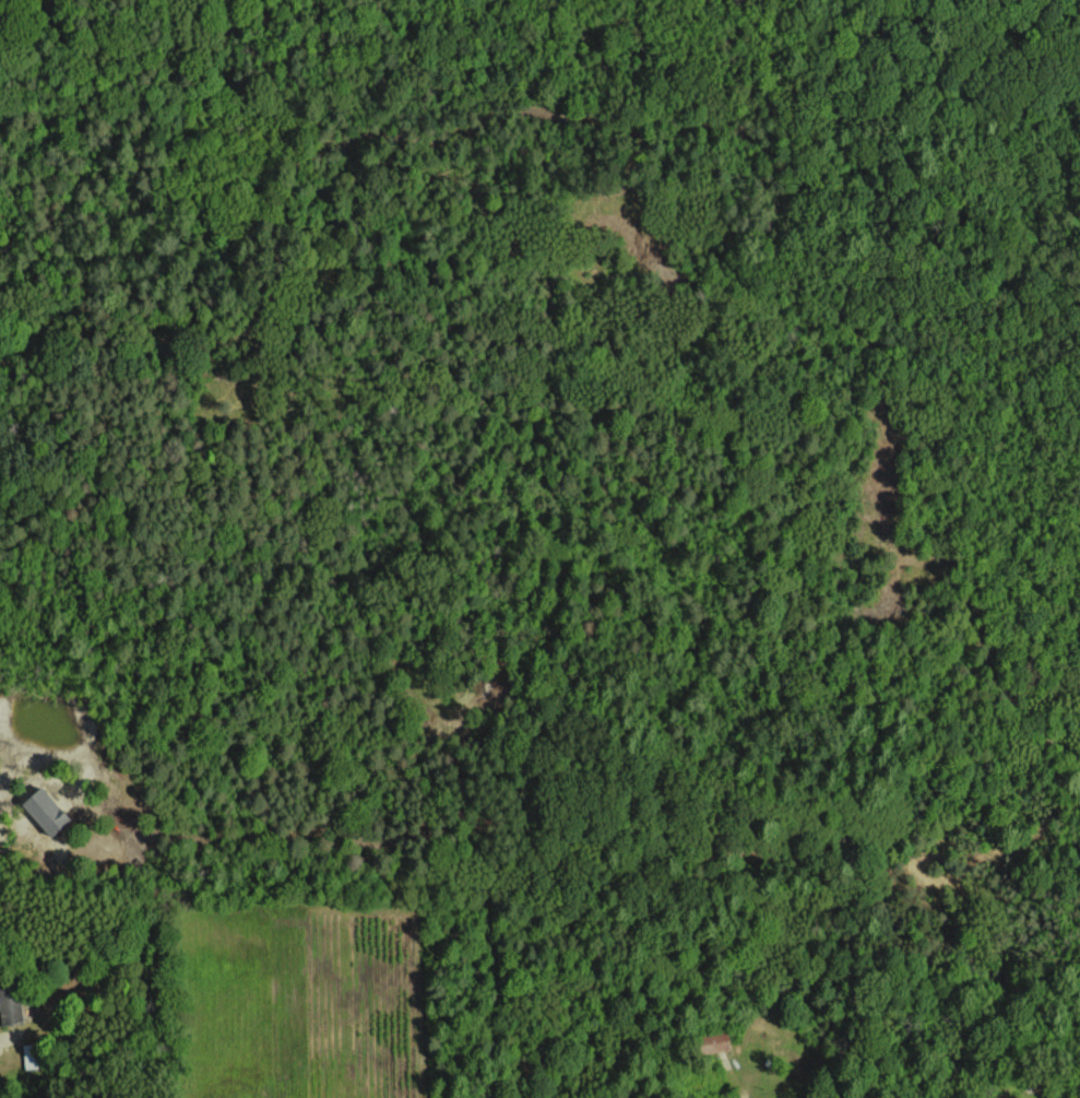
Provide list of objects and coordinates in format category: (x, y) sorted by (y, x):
building: (43, 812)
building: (10, 1005)
road: (11, 1034)

